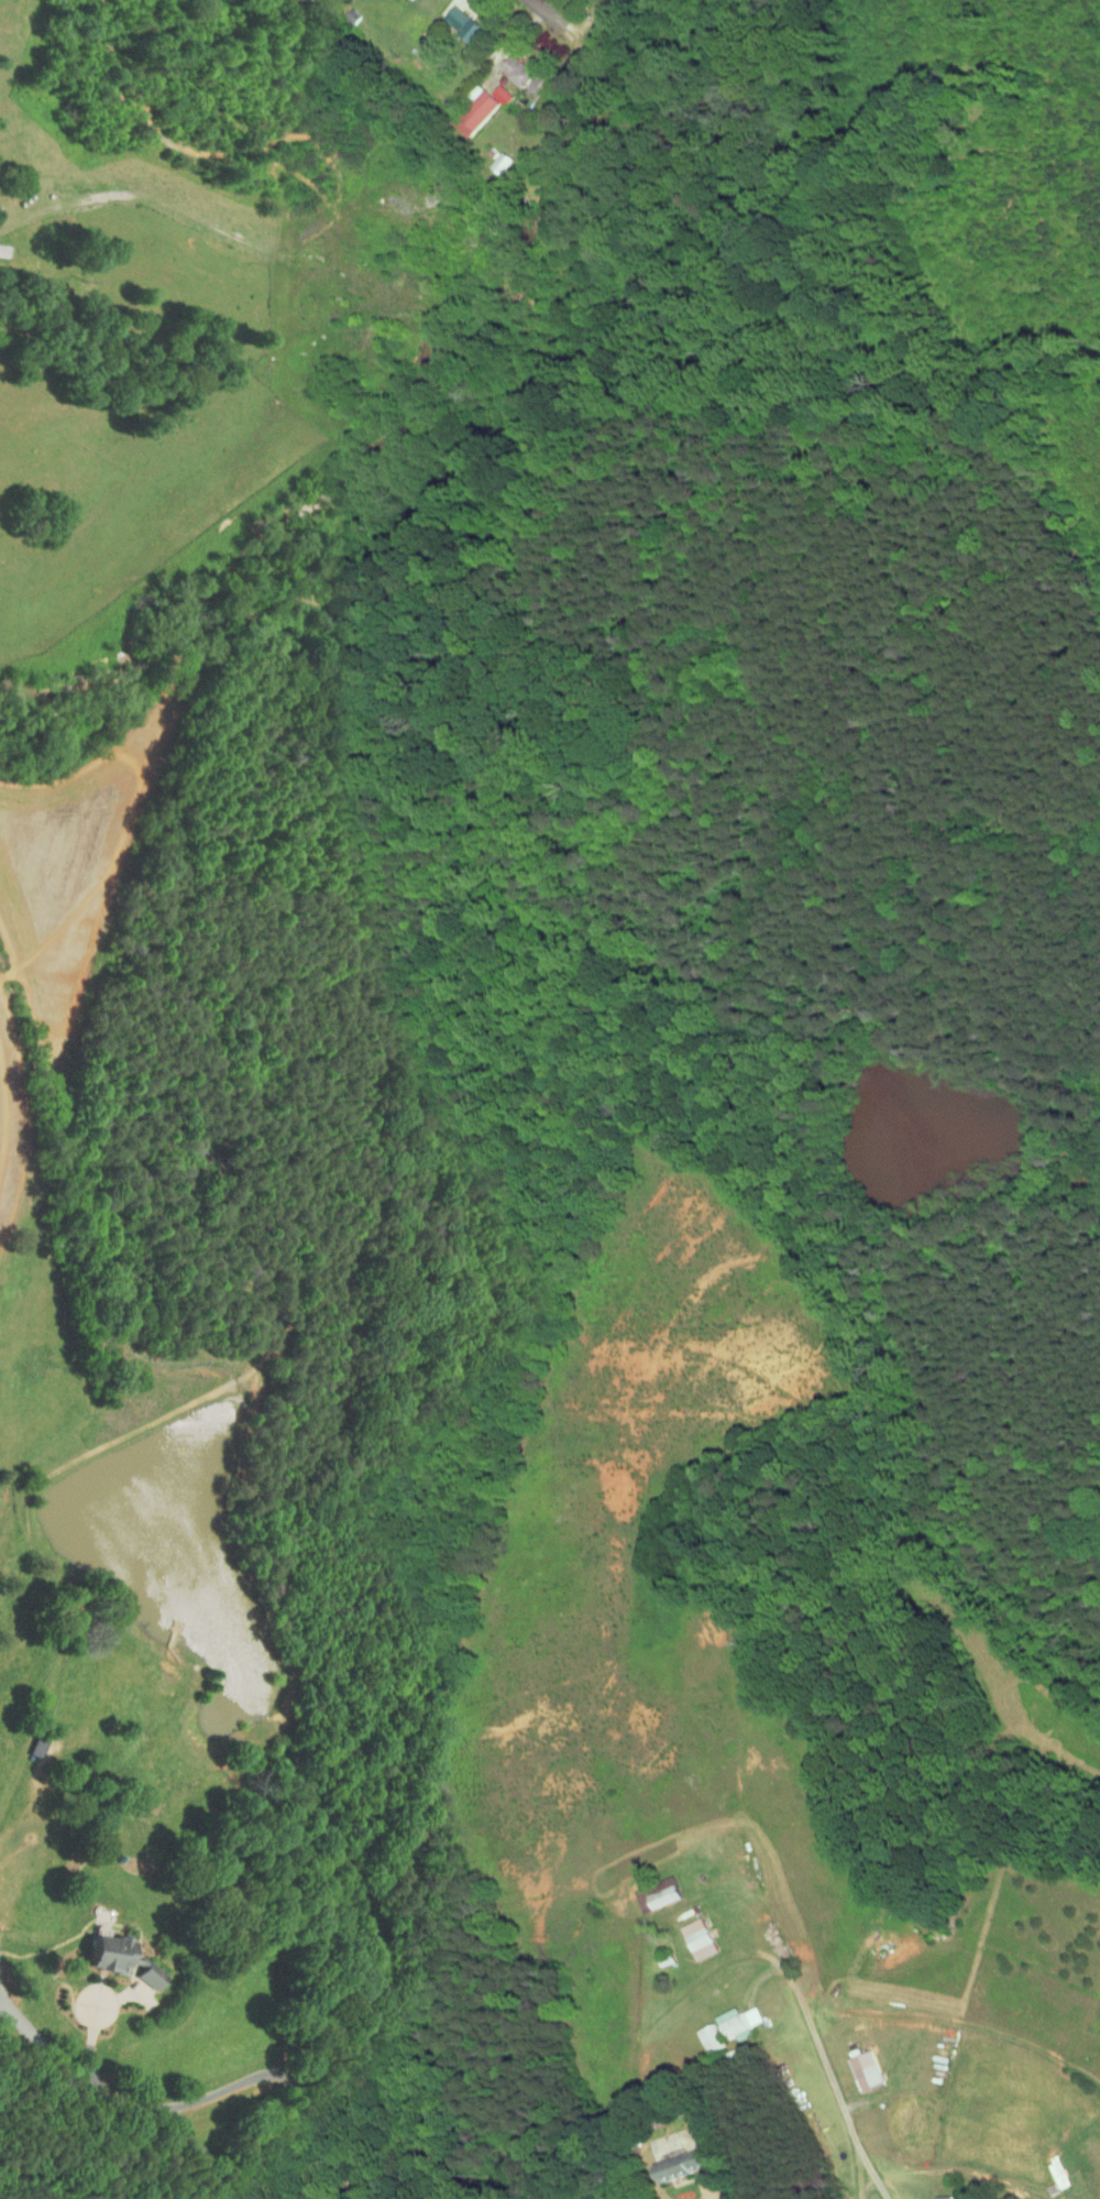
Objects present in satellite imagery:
building: (453, 17)
road: (550, 20)
building: (510, 66)
building: (474, 99)
building: (488, 156)
building: (649, 1890)
building: (687, 1933)
building: (116, 1955)
building: (728, 2017)
road: (954, 2021)
building: (701, 2032)
road: (48, 2043)
building: (855, 2065)
road: (824, 2091)
road: (202, 2098)
building: (673, 2156)
building: (1046, 2165)
road: (846, 2170)
road: (958, 2170)
road: (349, 2175)
building: (932, 2193)
road: (358, 2195)
road: (706, 2195)

